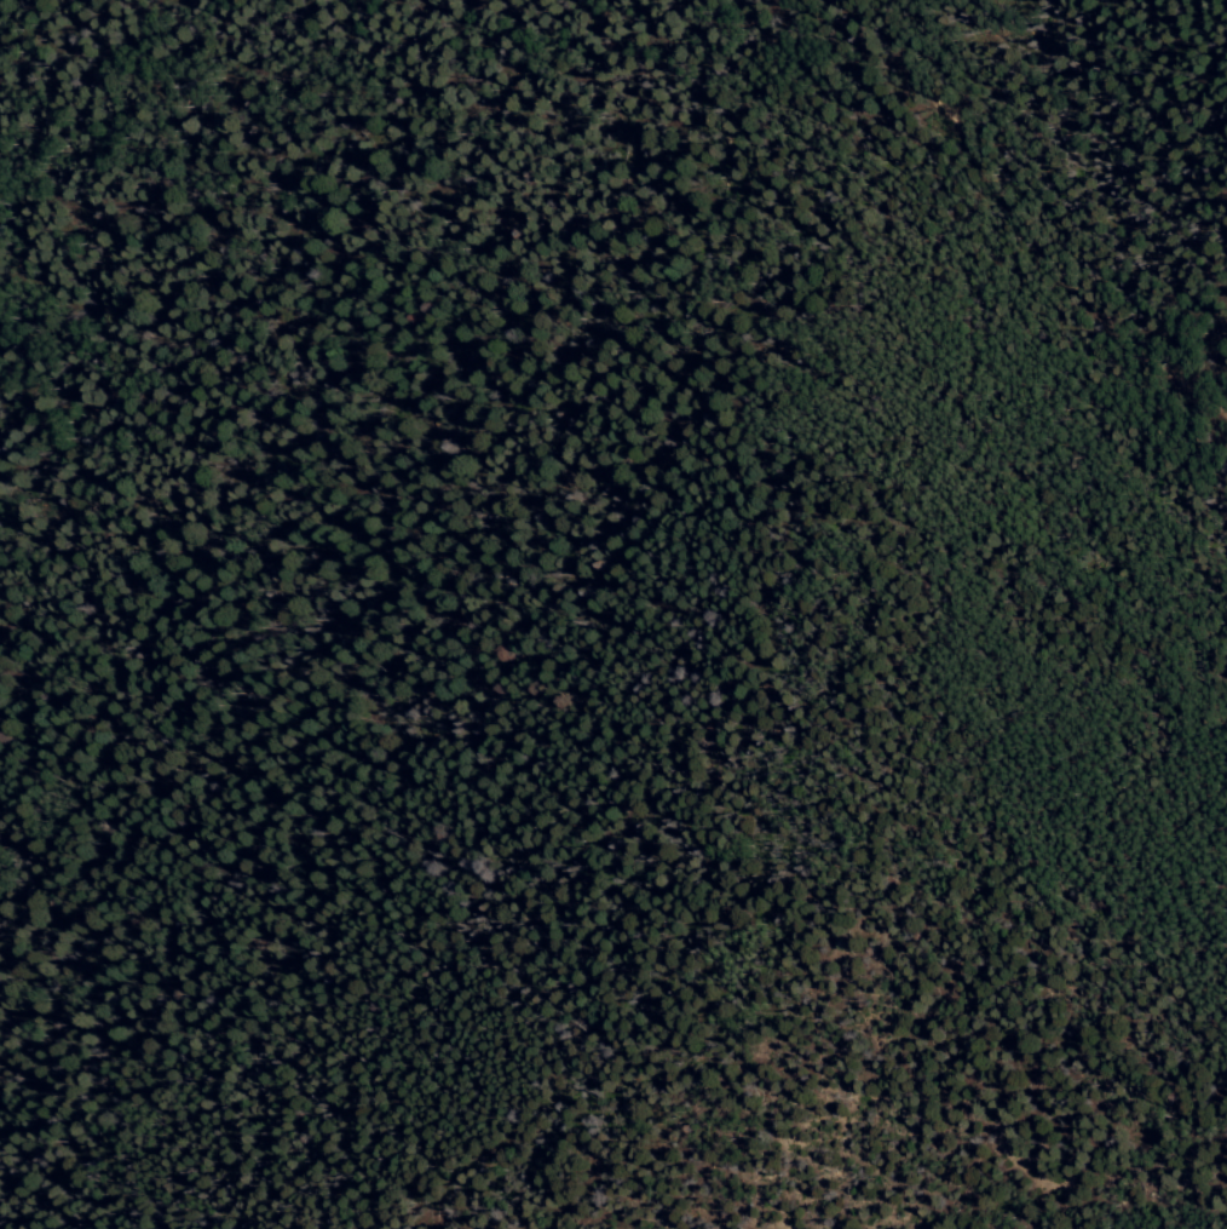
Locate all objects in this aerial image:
road: (1009, 232)

